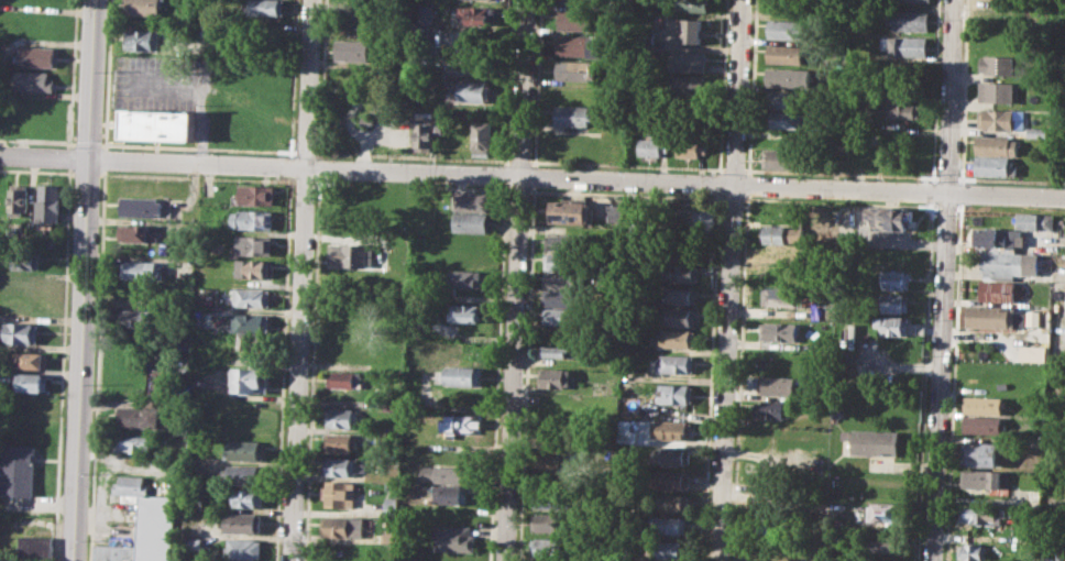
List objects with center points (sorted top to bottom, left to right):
building: (919, 0)
building: (578, 2)
building: (690, 5)
building: (267, 7)
building: (145, 8)
building: (427, 15)
building: (477, 15)
building: (577, 19)
building: (904, 20)
building: (266, 26)
building: (784, 29)
building: (690, 31)
building: (143, 40)
building: (578, 45)
building: (904, 46)
building: (353, 50)
building: (783, 54)
building: (37, 56)
building: (685, 61)
building: (999, 65)
building: (575, 69)
building: (784, 78)
building: (35, 81)
parking lot: (156, 81)
road: (204, 81)
building: (687, 85)
road: (934, 90)
road: (963, 91)
building: (997, 91)
building: (479, 94)
building: (784, 100)
building: (902, 107)
building: (685, 109)
building: (573, 116)
building: (367, 119)
building: (784, 120)
building: (997, 120)
building: (162, 123)
building: (424, 131)
building: (1039, 132)
building: (481, 136)
building: (654, 144)
building: (691, 144)
building: (995, 145)
building: (782, 159)
building: (995, 165)
road: (531, 177)
road: (931, 190)
road: (960, 193)
building: (257, 194)
building: (471, 199)
building: (20, 201)
building: (51, 202)
building: (143, 207)
building: (612, 210)
building: (573, 212)
building: (890, 217)
building: (252, 219)
building: (1033, 220)
building: (704, 221)
building: (470, 222)
building: (140, 232)
building: (781, 233)
building: (999, 239)
building: (568, 242)
building: (254, 244)
building: (682, 252)
building: (782, 253)
building: (355, 254)
building: (26, 258)
building: (566, 261)
building: (1007, 264)
building: (254, 267)
building: (141, 269)
building: (680, 272)
road: (300, 279)
building: (461, 279)
road: (728, 279)
building: (897, 279)
road: (84, 280)
road: (516, 280)
building: (564, 280)
road: (943, 280)
building: (997, 290)
building: (680, 296)
building: (780, 296)
building: (811, 296)
building: (252, 297)
building: (563, 298)
building: (894, 302)
building: (464, 311)
building: (562, 316)
building: (681, 316)
building: (995, 317)
building: (143, 318)
building: (1033, 318)
building: (251, 320)
building: (891, 323)
building: (415, 327)
building: (779, 331)
building: (22, 332)
building: (677, 338)
building: (254, 340)
building: (558, 351)
building: (31, 359)
building: (674, 364)
building: (460, 375)
building: (553, 377)
building: (344, 378)
building: (251, 380)
road: (923, 381)
building: (33, 382)
road: (953, 382)
building: (773, 384)
building: (1002, 385)
building: (673, 393)
building: (984, 405)
building: (772, 408)
building: (836, 413)
building: (140, 417)
building: (342, 418)
building: (984, 425)
building: (461, 428)
building: (671, 430)
building: (876, 441)
building: (134, 442)
building: (342, 442)
building: (244, 450)
building: (981, 454)
building: (672, 455)
building: (342, 466)
building: (20, 470)
building: (245, 474)
building: (444, 474)
building: (982, 479)
building: (671, 481)
building: (340, 494)
building: (451, 494)
building: (249, 497)
building: (551, 498)
building: (671, 503)
building: (391, 507)
building: (887, 512)
building: (982, 514)
building: (551, 521)
building: (242, 522)
building: (668, 525)
building: (145, 526)
building: (343, 528)
building: (454, 538)
building: (36, 546)
building: (883, 546)
building: (550, 547)
building: (244, 548)
building: (668, 550)
building: (975, 552)

